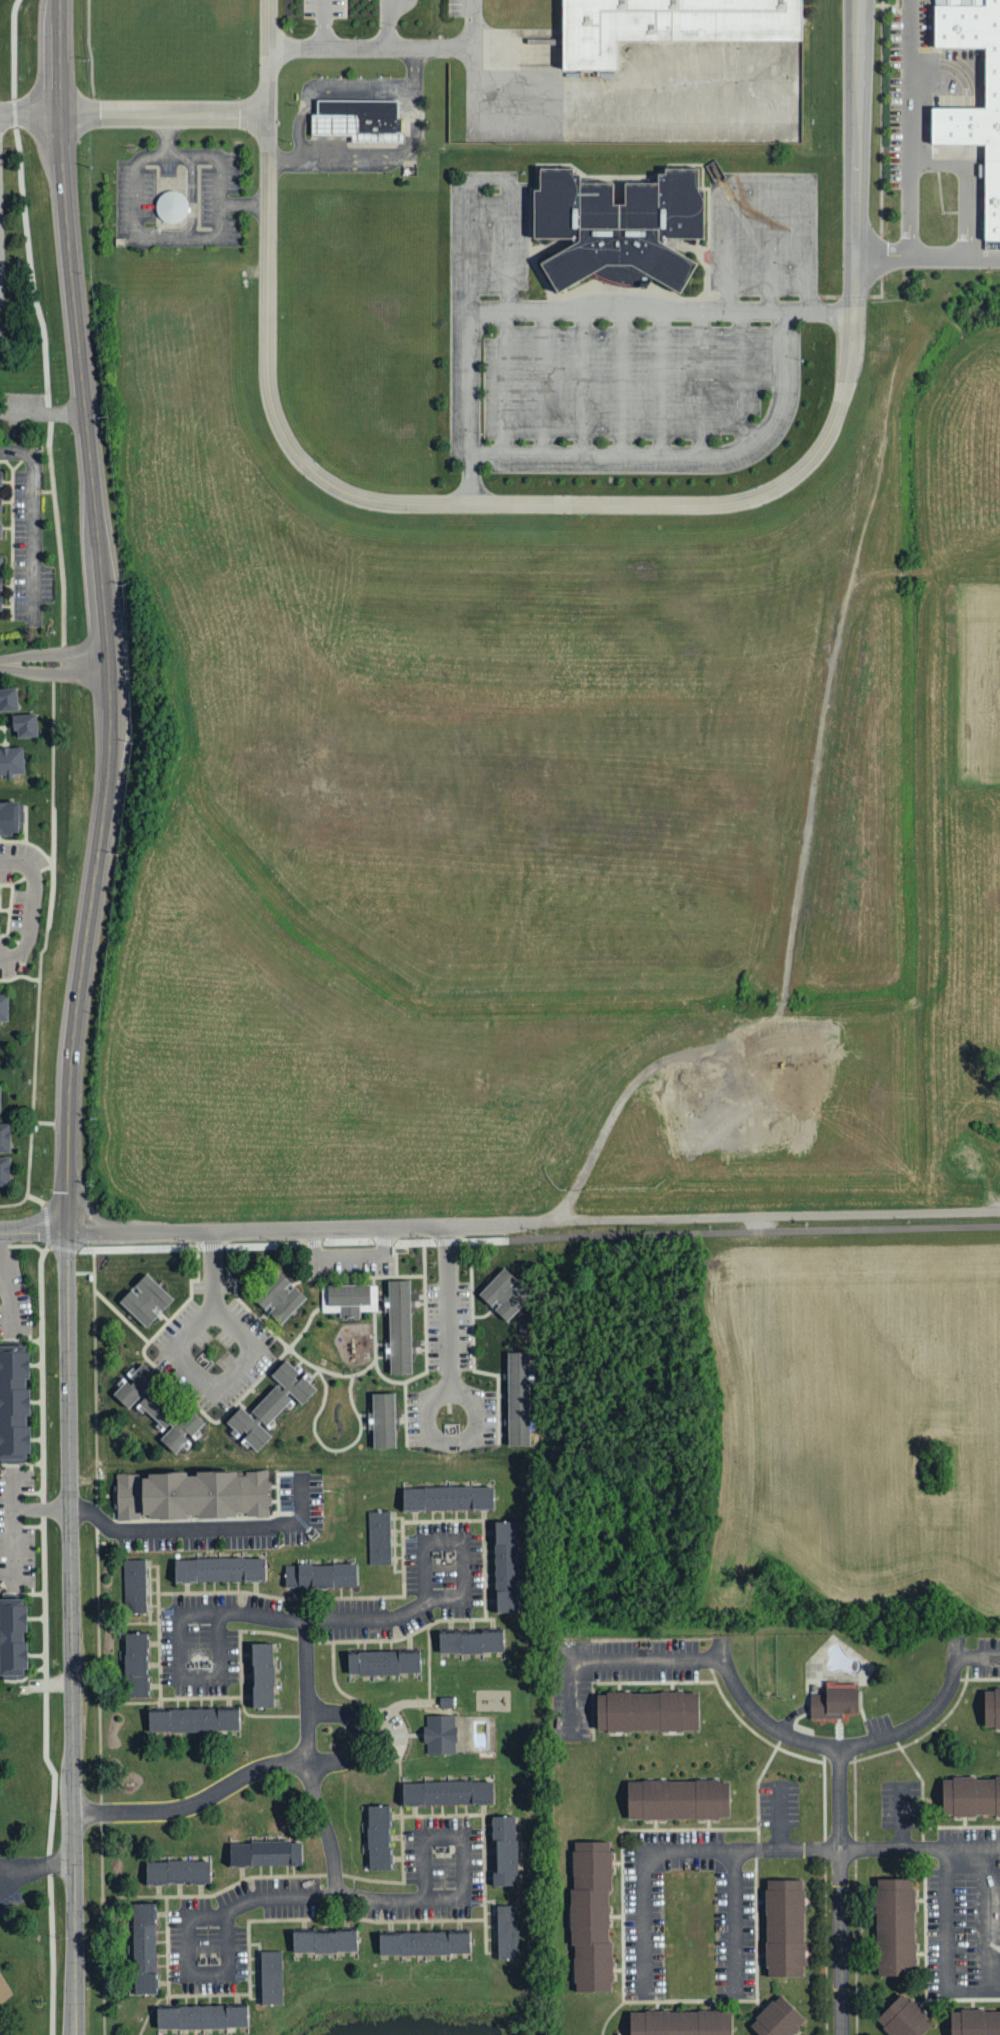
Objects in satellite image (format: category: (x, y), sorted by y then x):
road: (324, 23)
road: (388, 23)
building: (660, 26)
road: (394, 45)
road: (60, 57)
road: (326, 85)
road: (410, 85)
road: (910, 92)
road: (412, 104)
road: (30, 113)
road: (165, 114)
building: (352, 118)
building: (966, 120)
road: (164, 132)
road: (368, 149)
road: (769, 180)
road: (490, 181)
road: (242, 198)
building: (171, 207)
road: (909, 219)
road: (216, 223)
building: (617, 226)
road: (770, 244)
road: (927, 253)
road: (267, 265)
road: (661, 308)
parking lot: (628, 346)
road: (741, 375)
road: (504, 380)
road: (544, 380)
road: (583, 380)
road: (622, 380)
road: (662, 380)
road: (701, 381)
road: (470, 405)
road: (684, 453)
road: (810, 461)
road: (32, 520)
road: (54, 664)
building: (8, 701)
building: (24, 728)
building: (11, 760)
building: (9, 821)
road: (33, 904)
building: (3, 1006)
road: (37, 1021)
road: (72, 1072)
road: (603, 1133)
building: (5, 1154)
road: (532, 1221)
road: (32, 1232)
road: (520, 1238)
road: (348, 1261)
road: (7, 1283)
building: (504, 1293)
building: (279, 1295)
building: (346, 1296)
building: (145, 1297)
building: (399, 1325)
road: (188, 1366)
road: (447, 1393)
building: (518, 1396)
building: (271, 1404)
building: (159, 1405)
building: (13, 1409)
building: (384, 1418)
building: (191, 1493)
building: (448, 1496)
road: (42, 1506)
road: (205, 1526)
road: (15, 1528)
building: (379, 1536)
building: (505, 1564)
building: (218, 1568)
building: (320, 1571)
building: (134, 1584)
road: (316, 1620)
building: (471, 1640)
building: (11, 1644)
road: (978, 1658)
building: (383, 1661)
road: (615, 1662)
building: (135, 1663)
building: (262, 1673)
building: (833, 1702)
building: (991, 1705)
building: (647, 1710)
road: (759, 1716)
road: (925, 1717)
building: (192, 1718)
building: (440, 1732)
road: (357, 1734)
road: (308, 1761)
building: (446, 1791)
building: (970, 1795)
building: (678, 1798)
road: (195, 1803)
building: (378, 1835)
building: (504, 1848)
road: (749, 1851)
building: (264, 1853)
road: (36, 1868)
building: (177, 1870)
road: (840, 1892)
road: (331, 1898)
building: (590, 1912)
road: (947, 1920)
road: (991, 1920)
road: (734, 1924)
building: (783, 1925)
building: (895, 1925)
building: (507, 1930)
building: (323, 1939)
building: (423, 1941)
building: (144, 1947)
building: (271, 1976)
building: (3, 1987)
road: (973, 1992)
building: (201, 2015)
building: (903, 2017)
building: (777, 2018)
building: (975, 2022)
building: (679, 2023)

